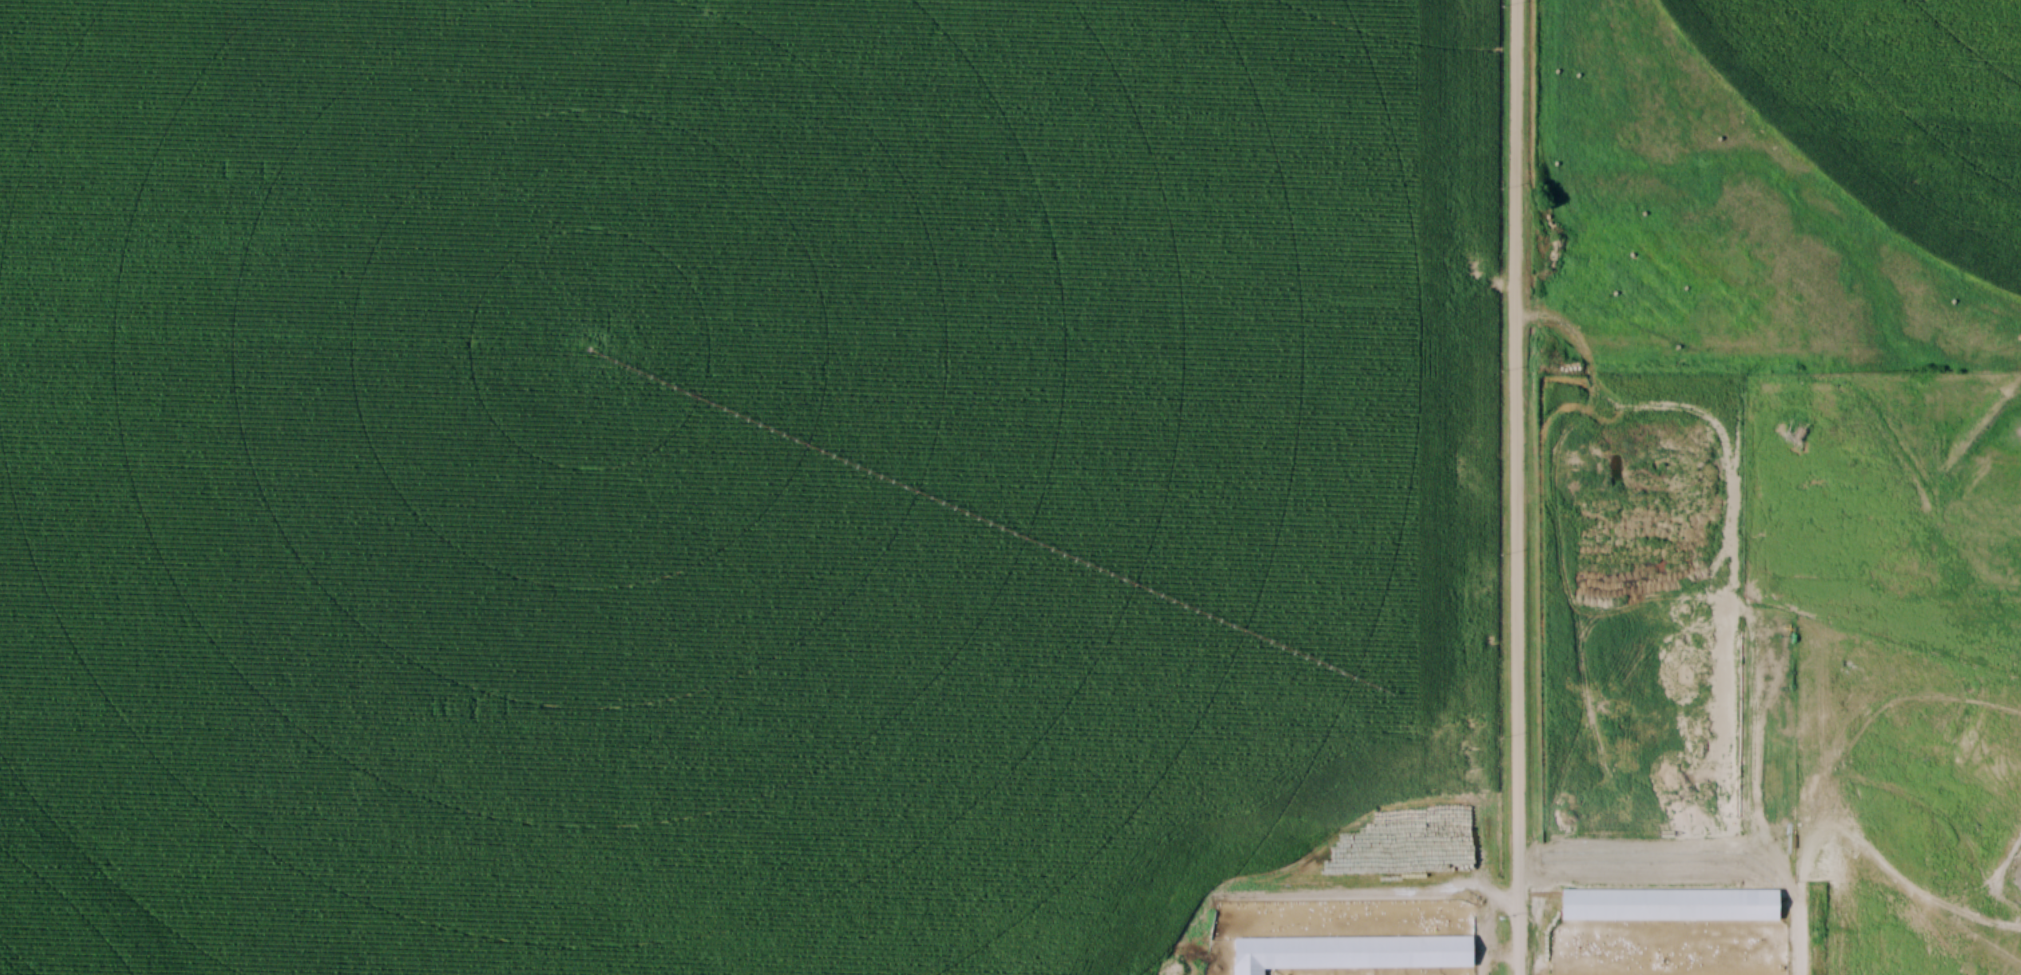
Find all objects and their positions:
road: (1517, 487)
road: (1674, 951)

